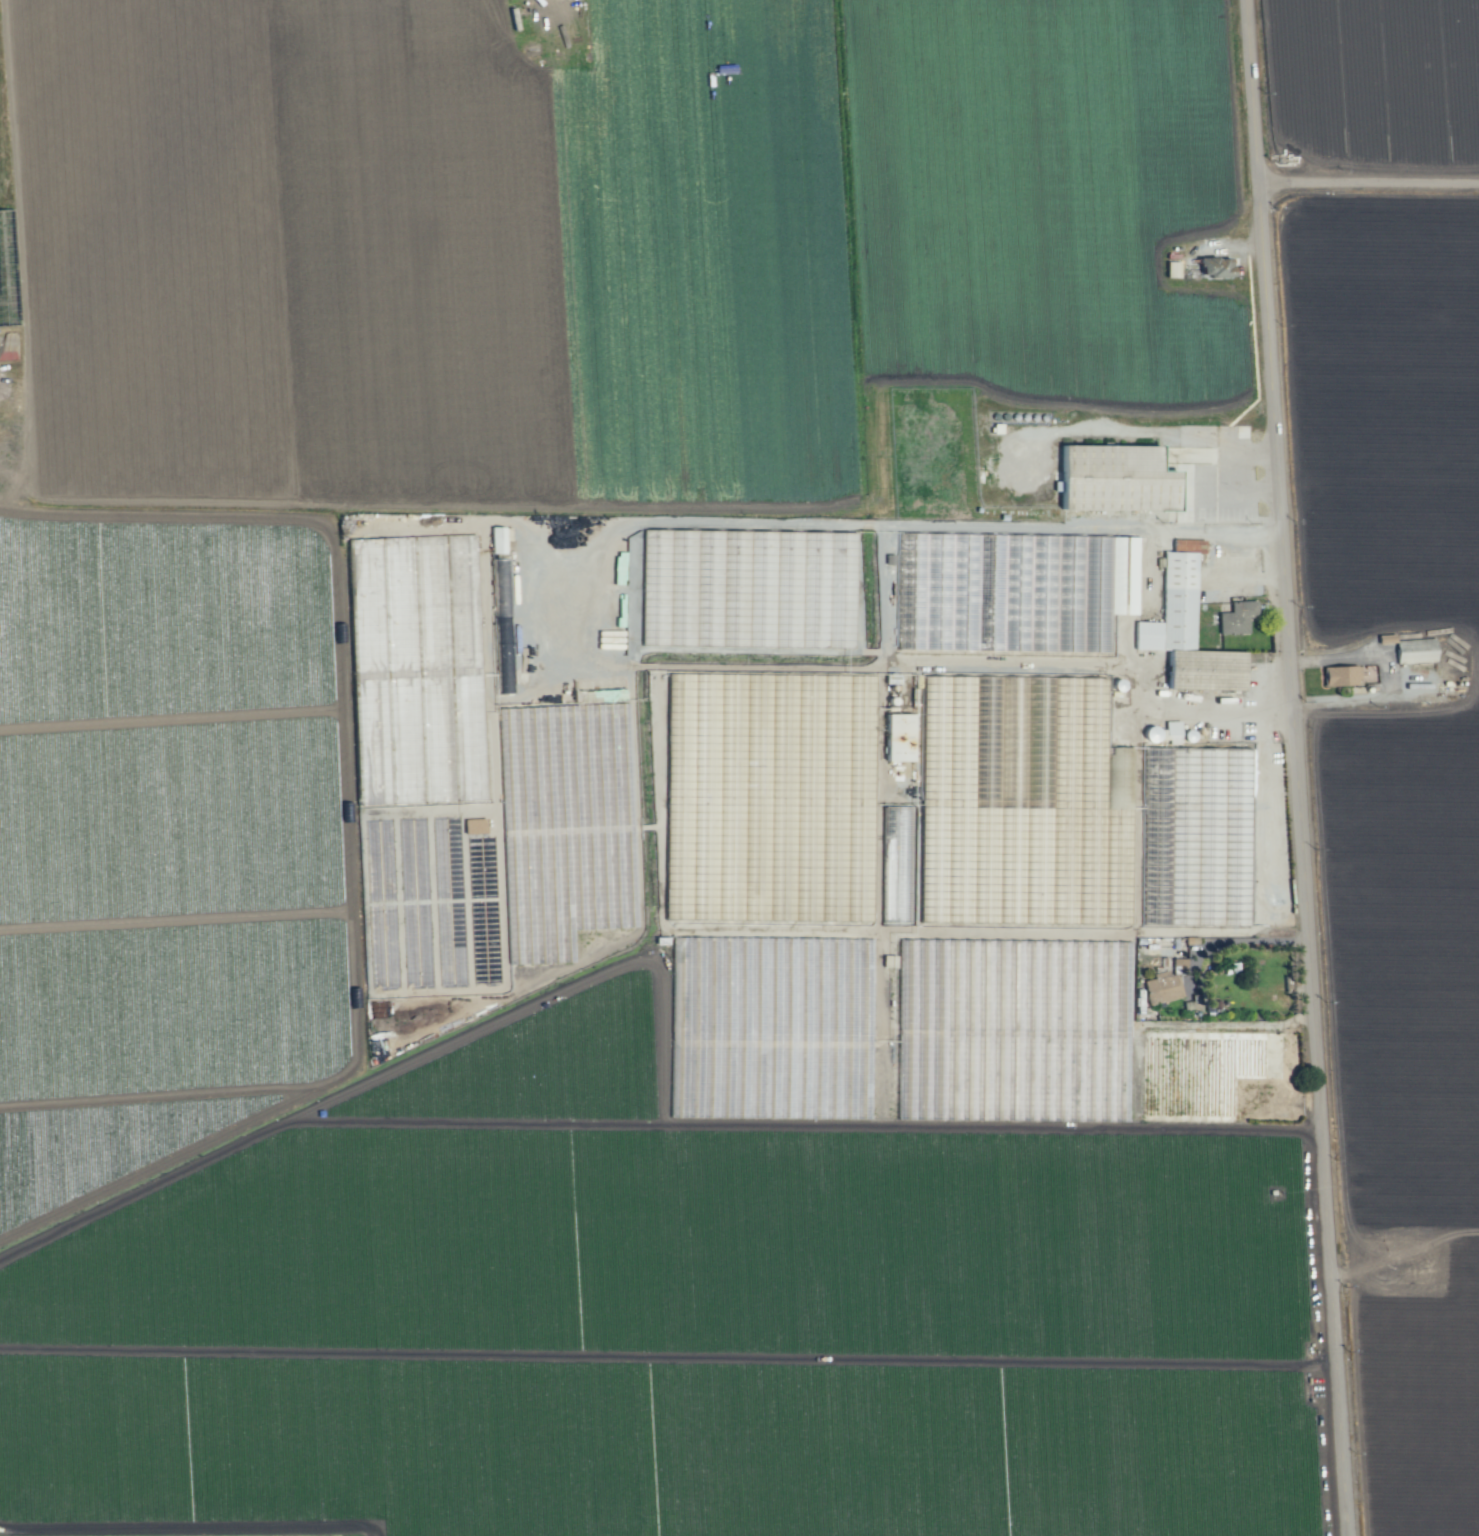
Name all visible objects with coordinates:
road: (1254, 93)
road: (1370, 186)
building: (1214, 267)
building: (1171, 269)
building: (1114, 478)
road: (1084, 534)
building: (498, 538)
building: (1114, 568)
building: (499, 579)
building: (1236, 617)
building: (1185, 629)
building: (1414, 650)
building: (1340, 675)
building: (1170, 731)
building: (897, 737)
crop: (739, 768)
building: (473, 825)
road: (346, 830)
road: (1304, 861)
road: (1234, 941)
building: (1178, 965)
building: (1161, 987)

